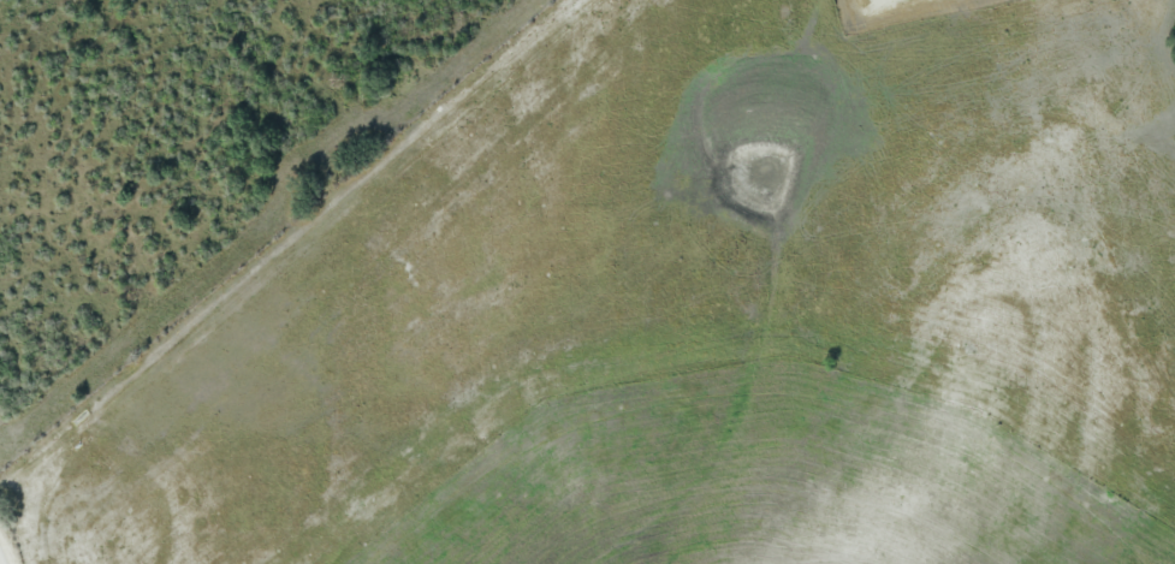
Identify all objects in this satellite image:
road: (1, 559)

